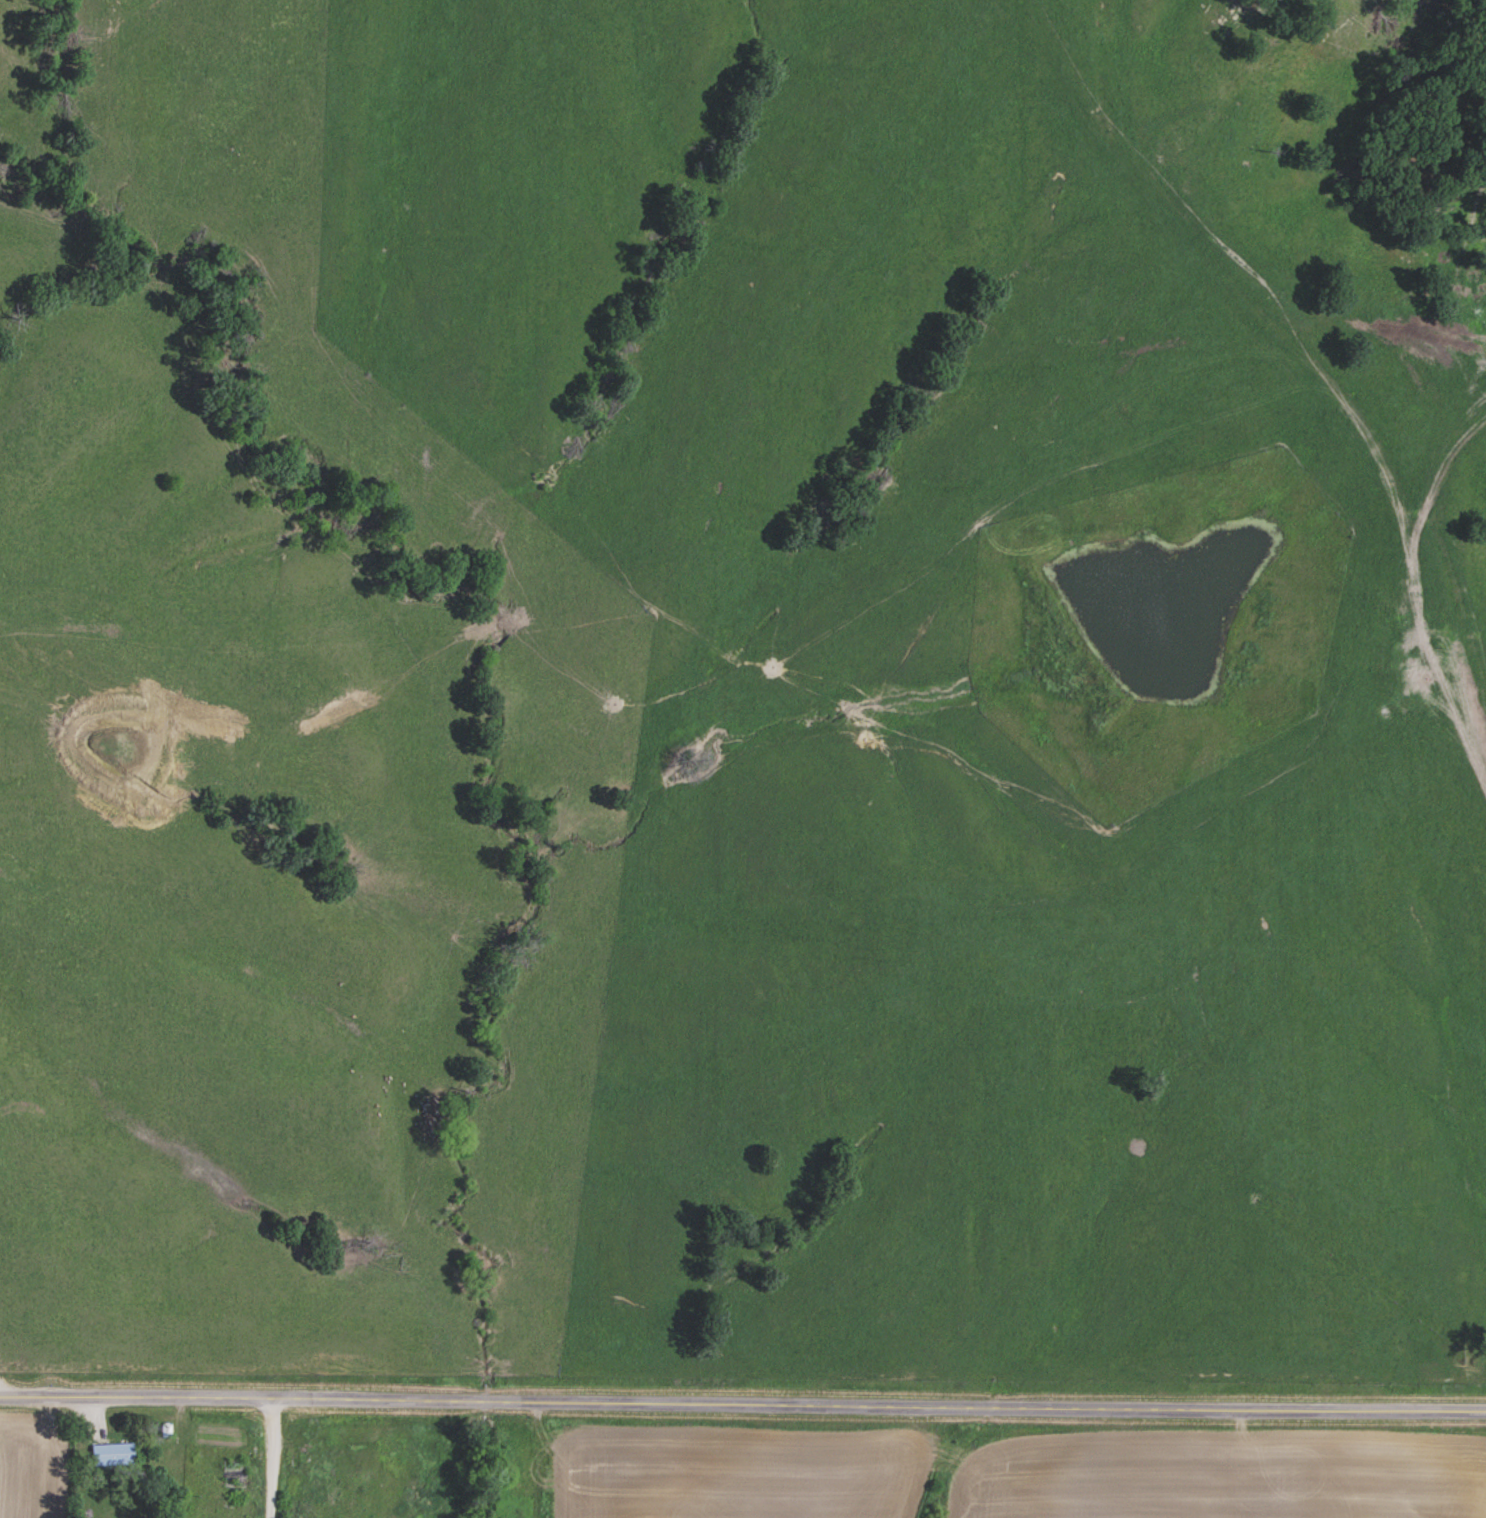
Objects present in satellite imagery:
road: (743, 1403)
building: (169, 1429)
building: (114, 1454)
road: (271, 1460)
building: (241, 1470)

